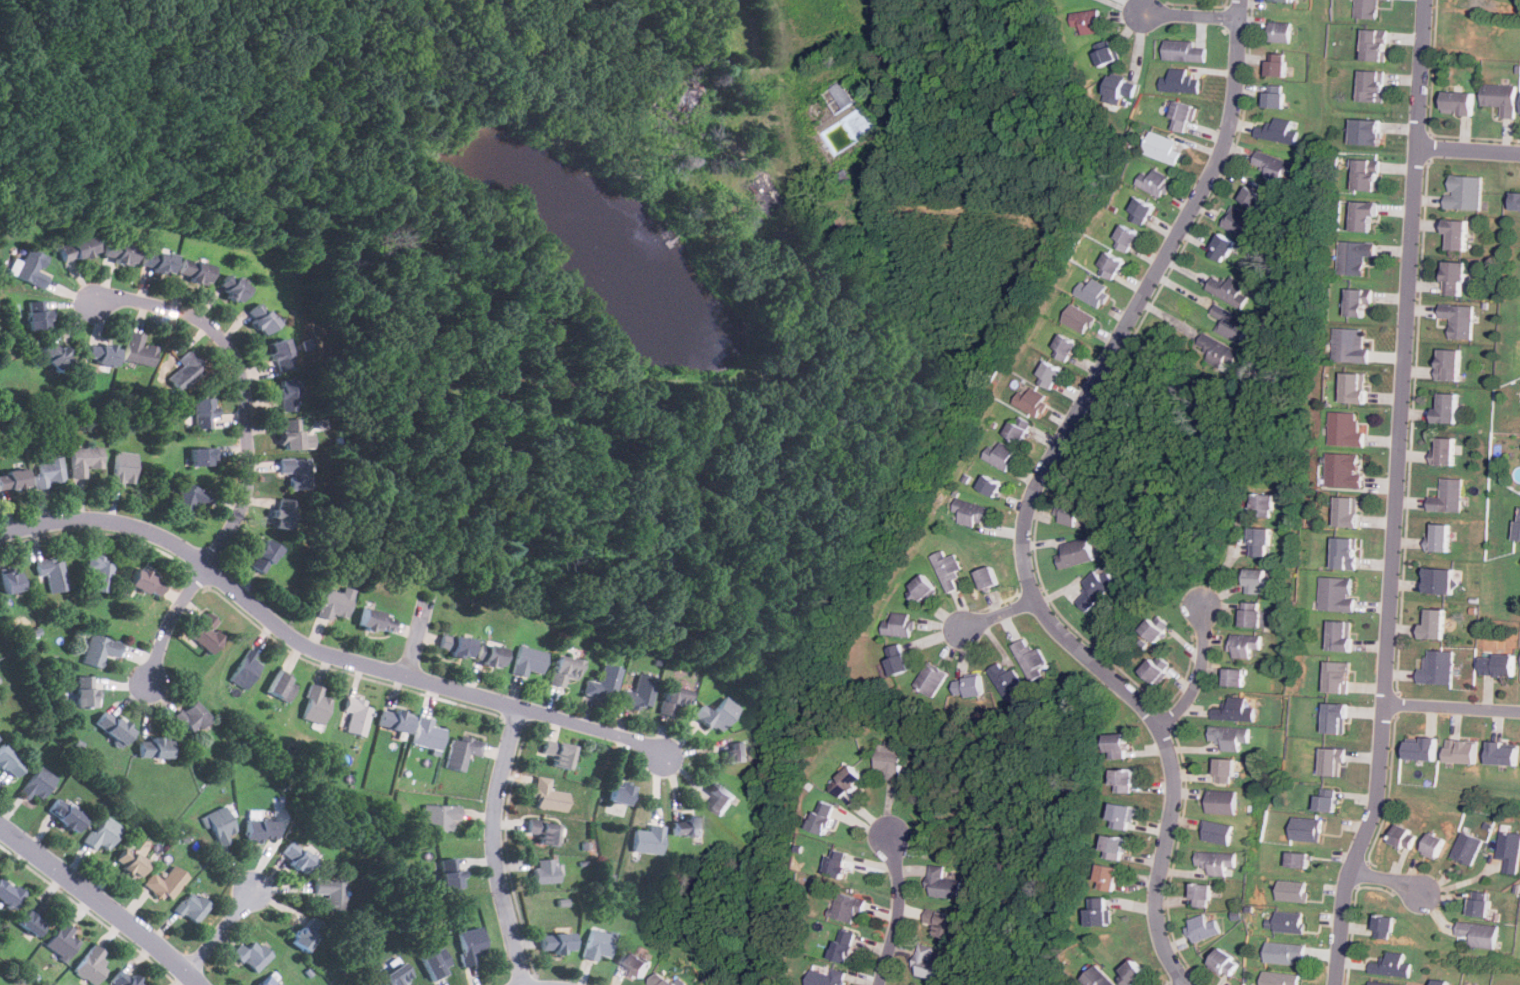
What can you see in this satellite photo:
building: (1282, 0)
road: (1120, 5)
building: (1367, 9)
road: (1186, 15)
building: (1089, 20)
building: (1278, 31)
building: (1373, 45)
building: (1183, 50)
building: (1108, 51)
building: (1275, 65)
building: (1182, 81)
building: (1372, 85)
building: (1122, 86)
building: (1501, 97)
building: (1273, 100)
building: (1457, 101)
building: (1184, 115)
building: (1277, 130)
building: (1366, 130)
building: (1165, 148)
road: (1468, 151)
building: (1272, 166)
building: (1369, 173)
building: (1156, 182)
building: (1464, 191)
building: (1255, 194)
building: (1515, 199)
building: (1139, 209)
building: (1367, 215)
building: (1240, 221)
building: (1455, 234)
building: (1123, 237)
building: (1225, 245)
building: (77, 247)
building: (120, 251)
building: (1356, 255)
building: (158, 259)
building: (1109, 264)
building: (29, 267)
building: (195, 269)
building: (1453, 277)
building: (233, 286)
building: (1231, 289)
building: (1093, 291)
building: (1361, 301)
building: (38, 314)
building: (262, 317)
building: (1080, 317)
building: (1458, 319)
building: (1231, 323)
building: (1067, 345)
building: (1351, 345)
building: (138, 349)
building: (1217, 349)
building: (101, 352)
building: (57, 354)
building: (281, 354)
building: (1447, 364)
building: (186, 370)
building: (1053, 374)
building: (1356, 387)
building: (289, 394)
building: (1032, 400)
building: (1445, 407)
building: (203, 412)
building: (380, 416)
building: (1346, 429)
building: (1020, 431)
building: (295, 435)
road: (248, 449)
building: (1444, 450)
building: (203, 455)
building: (1001, 455)
building: (84, 459)
building: (123, 468)
building: (1344, 469)
building: (295, 470)
building: (48, 472)
building: (13, 479)
building: (987, 485)
road: (1402, 495)
building: (1447, 496)
building: (189, 497)
road: (1037, 500)
building: (1264, 504)
building: (1349, 510)
building: (1071, 511)
building: (973, 512)
building: (283, 513)
building: (1517, 524)
building: (1438, 536)
building: (482, 537)
building: (1260, 541)
building: (526, 550)
building: (1077, 552)
building: (1347, 552)
building: (263, 554)
road: (1226, 558)
building: (948, 569)
building: (51, 572)
building: (99, 572)
building: (991, 578)
building: (1437, 579)
building: (11, 580)
building: (1257, 580)
building: (145, 581)
building: (921, 587)
building: (1097, 587)
building: (1338, 593)
building: (335, 602)
building: (1255, 614)
road: (993, 616)
building: (375, 620)
building: (1432, 623)
building: (900, 624)
building: (1156, 630)
building: (206, 632)
building: (1342, 635)
road: (414, 642)
building: (1244, 644)
building: (456, 645)
building: (100, 649)
road: (324, 649)
building: (490, 654)
building: (899, 659)
building: (1031, 659)
building: (528, 660)
building: (1497, 664)
building: (1437, 667)
building: (565, 668)
building: (245, 669)
building: (1156, 670)
road: (1197, 673)
building: (1339, 676)
building: (1234, 677)
building: (931, 678)
building: (1007, 681)
building: (604, 682)
building: (282, 686)
building: (971, 686)
building: (85, 690)
building: (640, 691)
building: (674, 698)
building: (315, 705)
building: (1233, 710)
road: (1456, 710)
building: (717, 713)
building: (357, 714)
building: (193, 716)
building: (1337, 717)
building: (395, 718)
building: (114, 726)
building: (427, 733)
building: (1229, 736)
building: (1121, 746)
building: (155, 747)
building: (1420, 749)
building: (461, 751)
building: (740, 751)
building: (1461, 751)
building: (558, 752)
building: (1502, 753)
building: (890, 758)
building: (7, 760)
building: (1332, 761)
building: (1225, 770)
building: (1120, 779)
building: (848, 780)
building: (37, 783)
building: (1328, 792)
building: (621, 793)
building: (548, 796)
building: (723, 798)
building: (1222, 801)
building: (1329, 802)
building: (66, 814)
building: (1120, 814)
building: (439, 816)
building: (824, 816)
building: (220, 823)
building: (689, 826)
building: (260, 828)
building: (1307, 829)
building: (544, 831)
building: (1217, 832)
building: (103, 833)
building: (1401, 835)
building: (647, 839)
road: (495, 844)
building: (1111, 845)
building: (1432, 845)
building: (1466, 848)
building: (1509, 851)
building: (298, 856)
building: (1301, 859)
building: (1215, 861)
building: (131, 862)
building: (840, 863)
building: (546, 870)
building: (452, 873)
building: (1107, 875)
road: (1388, 878)
building: (165, 883)
building: (943, 883)
building: (1294, 890)
building: (9, 893)
building: (331, 893)
building: (1202, 895)
road: (102, 900)
building: (192, 906)
building: (848, 906)
road: (897, 906)
building: (1478, 907)
building: (1102, 911)
building: (32, 918)
building: (1291, 921)
building: (942, 922)
building: (1382, 926)
building: (1203, 927)
road: (222, 929)
building: (307, 933)
building: (1478, 934)
building: (62, 941)
building: (557, 942)
building: (598, 943)
building: (470, 944)
building: (846, 945)
building: (1287, 952)
building: (252, 954)
building: (1226, 960)
building: (436, 963)
building: (636, 963)
building: (929, 964)
building: (91, 965)
building: (1391, 965)
building: (1135, 973)
building: (397, 975)
building: (826, 977)
building: (1099, 977)
building: (124, 978)
building: (1281, 978)
building: (662, 979)
building: (268, 981)
building: (1381, 983)
building: (1441, 983)
building: (911, 984)
building: (914, 984)
road: (1185, 984)

